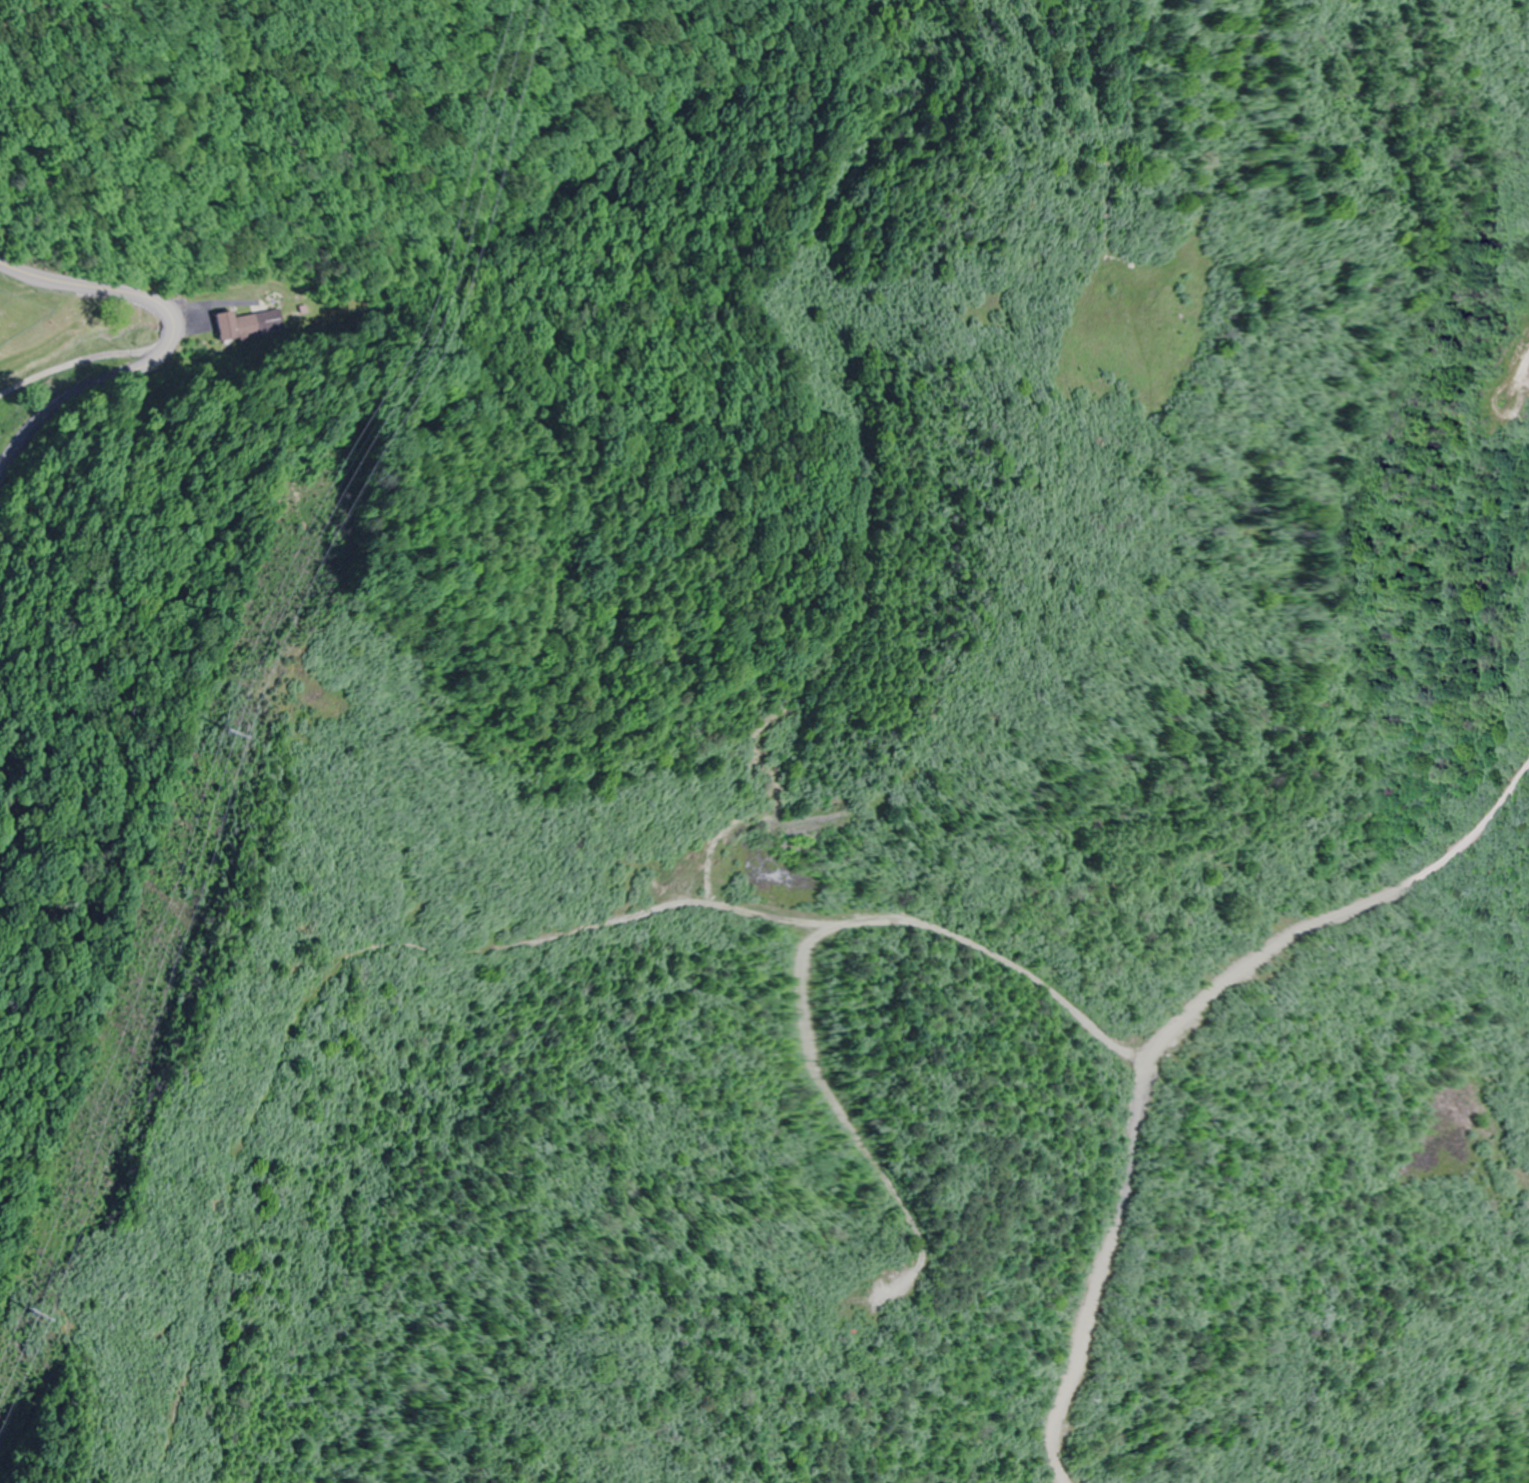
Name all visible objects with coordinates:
building: (231, 327)
road: (167, 345)
power tower: (220, 732)
power tower: (17, 1315)

